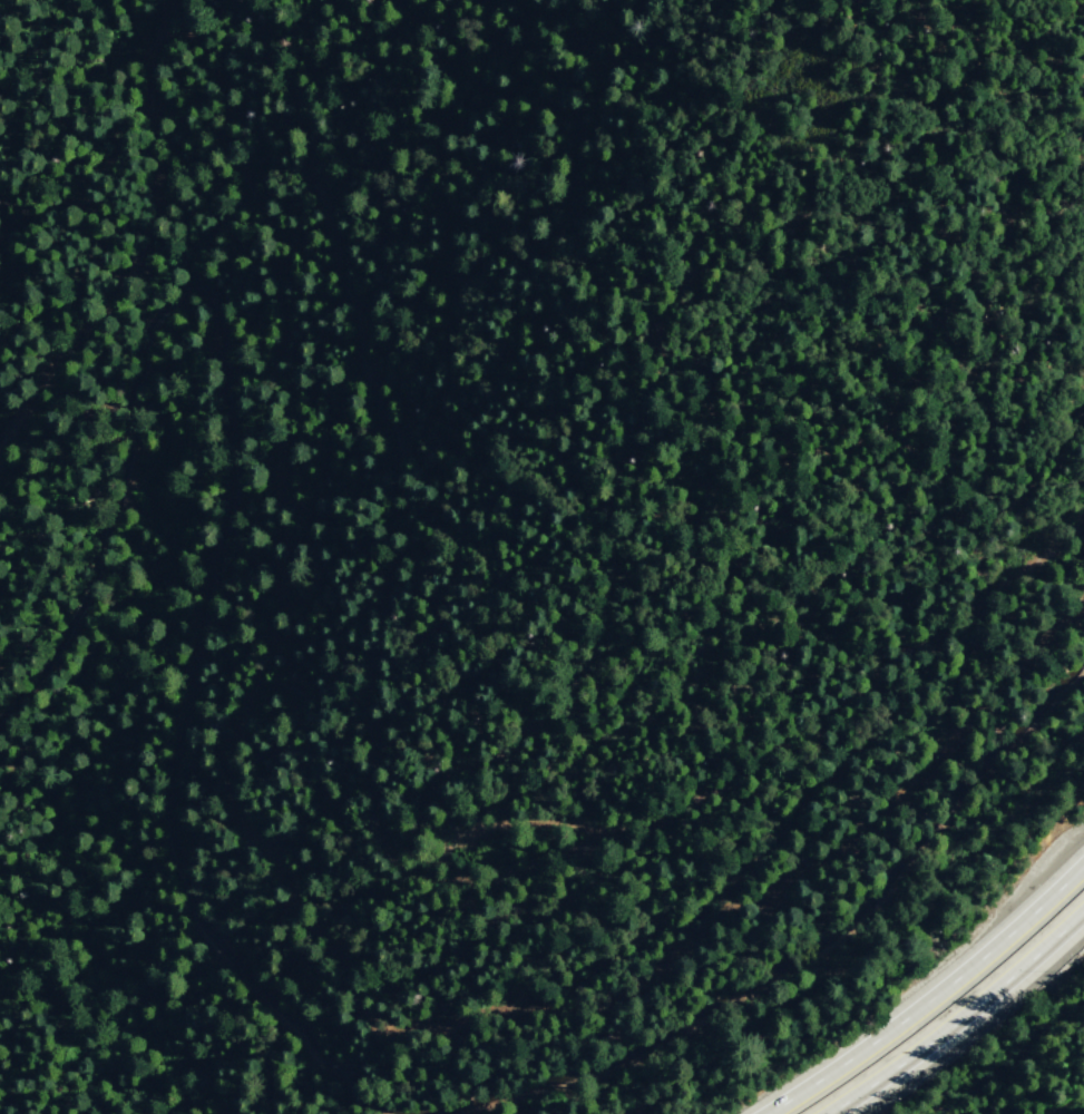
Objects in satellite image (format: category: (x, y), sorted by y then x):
road: (930, 996)
road: (958, 1017)

